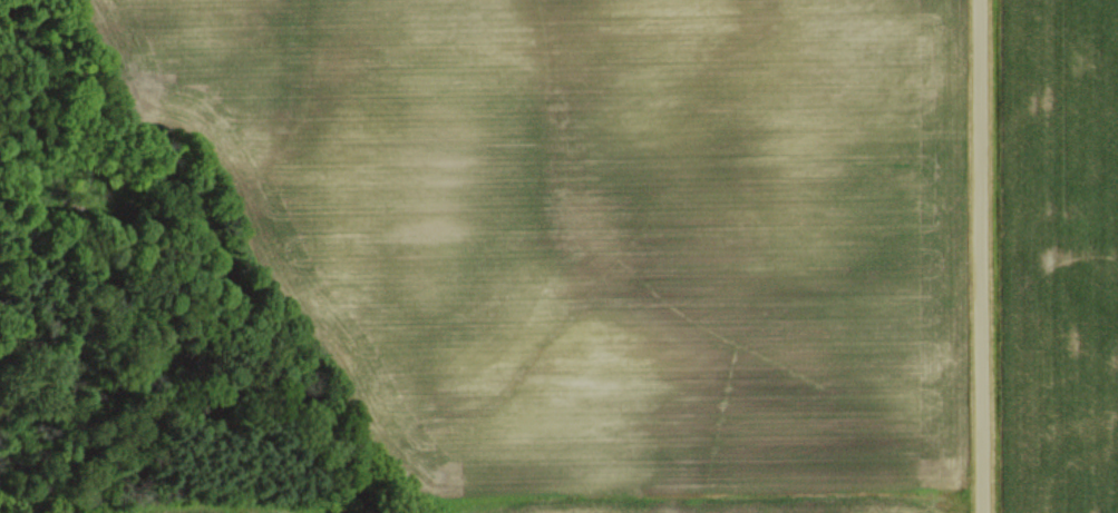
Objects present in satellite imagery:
road: (976, 256)

